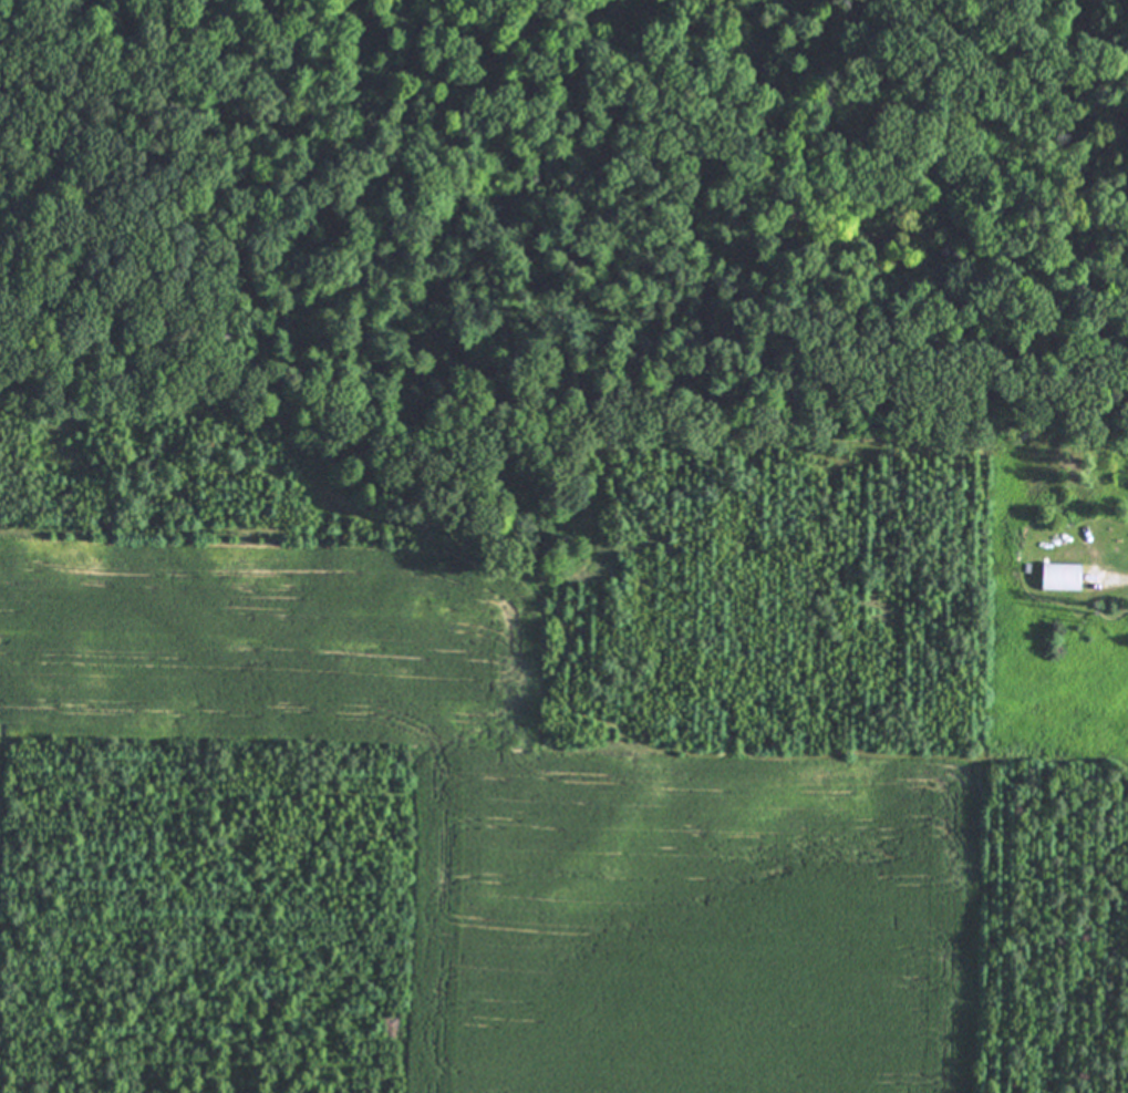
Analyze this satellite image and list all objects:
building: (1065, 576)
road: (1122, 577)

